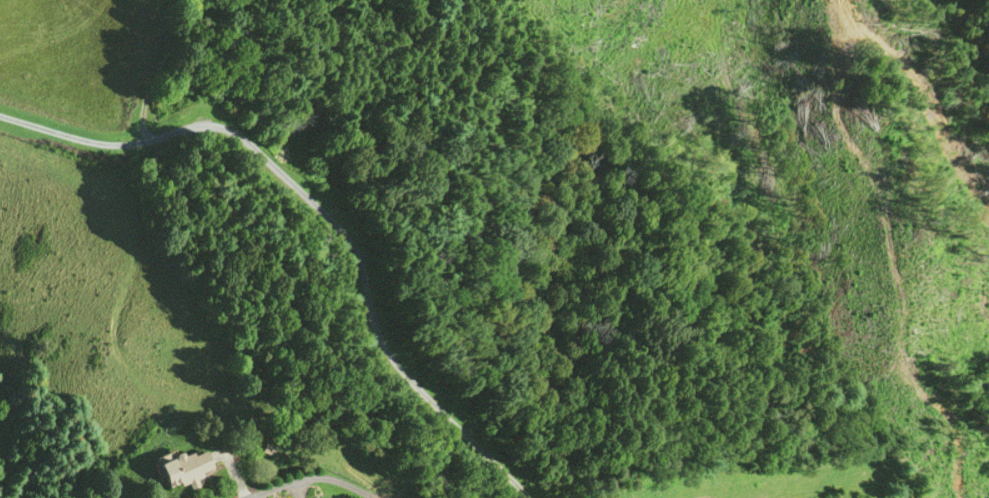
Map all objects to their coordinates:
road: (156, 70)
road: (319, 213)
building: (182, 467)
road: (309, 474)

